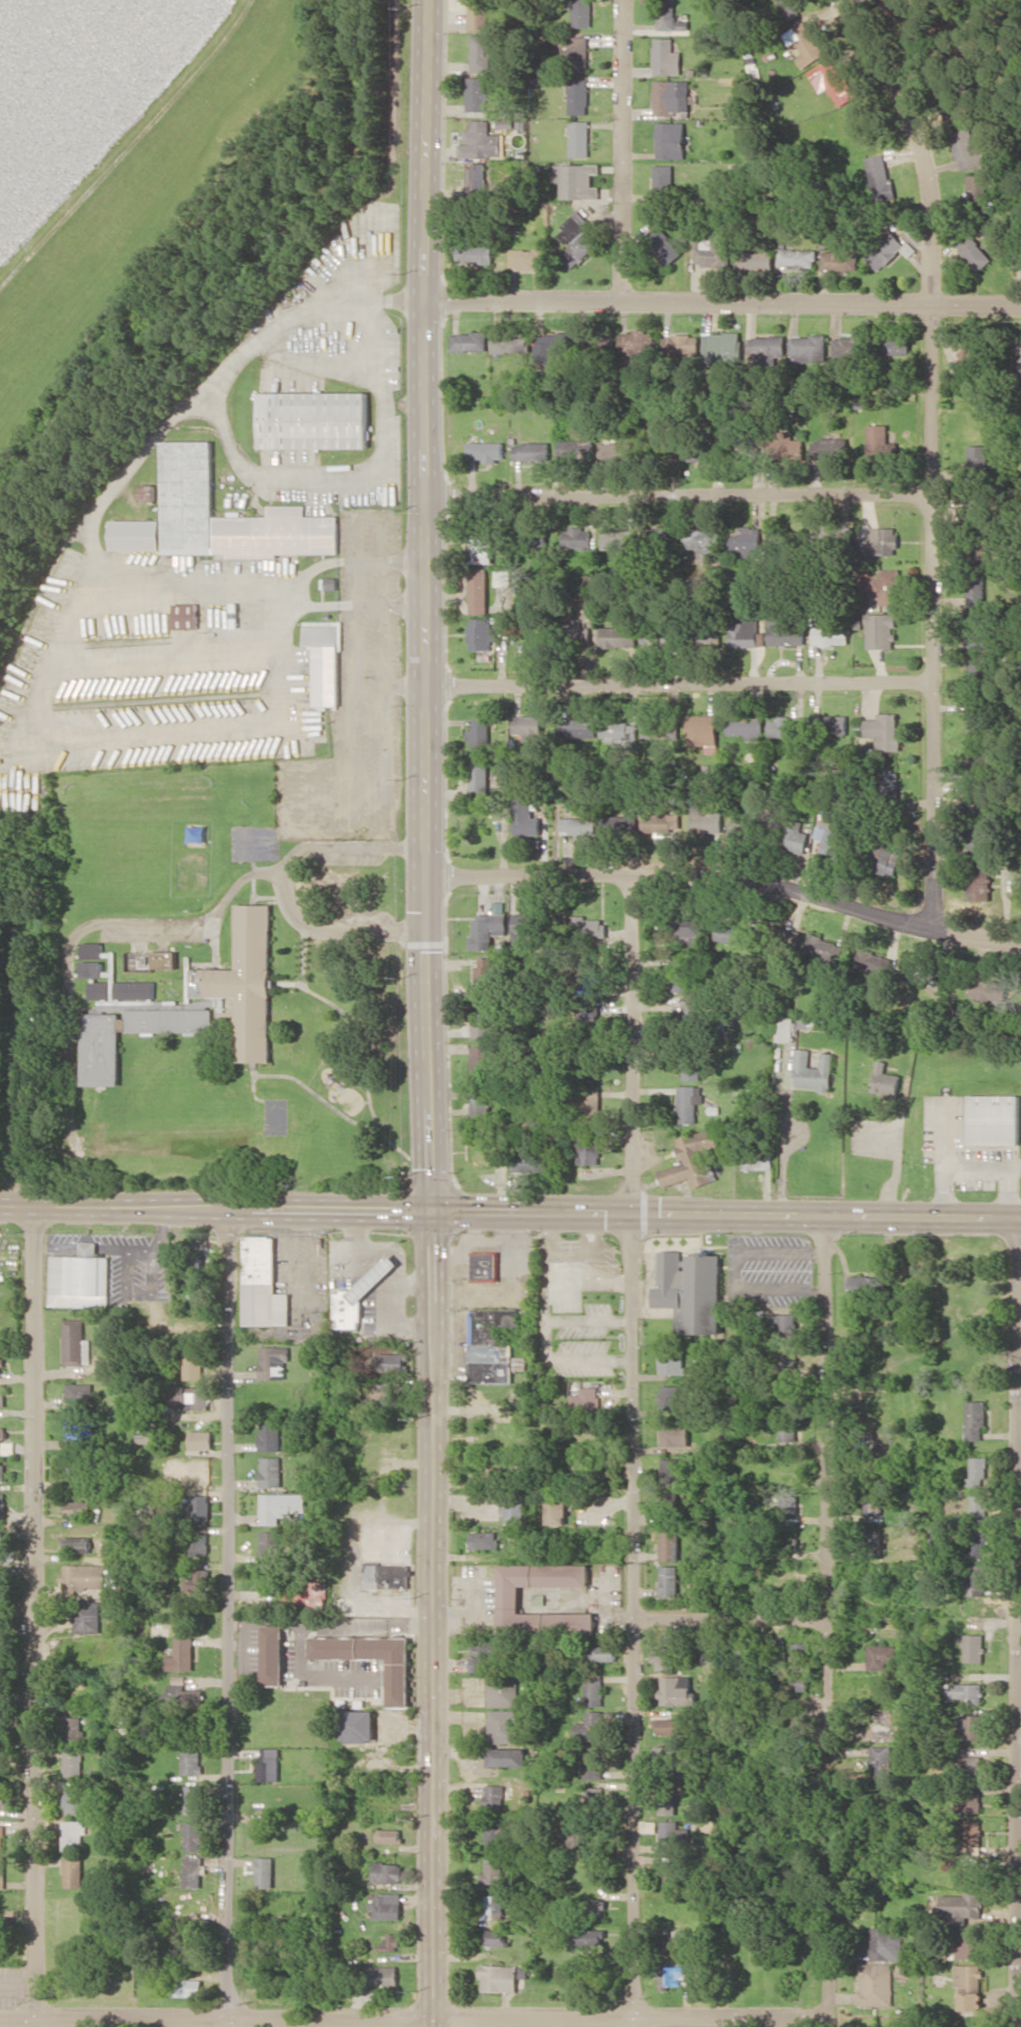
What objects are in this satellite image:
building: (1020, 0)
building: (898, 12)
building: (582, 13)
building: (481, 14)
building: (671, 18)
building: (807, 43)
building: (481, 53)
building: (579, 53)
building: (667, 57)
building: (833, 82)
building: (478, 94)
building: (579, 95)
building: (673, 97)
building: (580, 138)
building: (672, 140)
building: (482, 141)
building: (966, 145)
road: (623, 149)
building: (880, 177)
building: (477, 180)
building: (577, 180)
building: (665, 181)
building: (977, 194)
building: (577, 240)
building: (664, 245)
building: (888, 250)
building: (713, 251)
building: (974, 251)
building: (482, 254)
building: (796, 256)
building: (529, 258)
building: (757, 260)
building: (839, 260)
road: (723, 300)
building: (471, 341)
building: (507, 342)
building: (553, 342)
building: (683, 345)
building: (849, 345)
building: (724, 346)
building: (894, 346)
building: (810, 348)
building: (639, 349)
building: (971, 358)
building: (1016, 358)
building: (315, 420)
building: (881, 442)
building: (786, 446)
building: (832, 447)
building: (594, 449)
building: (487, 450)
building: (659, 450)
building: (532, 451)
building: (748, 452)
building: (698, 454)
road: (930, 455)
building: (978, 455)
building: (189, 473)
building: (148, 492)
road: (677, 494)
building: (979, 505)
building: (136, 535)
building: (576, 537)
building: (660, 537)
building: (617, 538)
building: (703, 538)
building: (746, 538)
building: (882, 541)
building: (480, 548)
building: (503, 577)
road: (198, 578)
building: (331, 583)
building: (883, 586)
building: (980, 590)
building: (478, 591)
road: (425, 605)
building: (186, 616)
building: (579, 631)
building: (786, 631)
building: (882, 631)
building: (977, 631)
building: (481, 633)
building: (746, 633)
building: (658, 634)
building: (831, 634)
building: (618, 636)
building: (326, 660)
building: (979, 670)
road: (679, 682)
building: (980, 713)
building: (832, 725)
building: (748, 726)
building: (528, 727)
building: (581, 727)
building: (784, 727)
building: (703, 729)
building: (655, 730)
building: (886, 731)
building: (480, 732)
building: (620, 733)
building: (480, 776)
building: (891, 790)
building: (525, 817)
building: (707, 818)
building: (620, 821)
building: (577, 825)
building: (791, 835)
building: (826, 837)
building: (979, 843)
road: (352, 849)
building: (886, 857)
road: (727, 878)
building: (979, 883)
building: (522, 925)
building: (585, 926)
building: (488, 928)
road: (341, 929)
building: (686, 929)
building: (734, 932)
building: (790, 936)
building: (825, 949)
road: (70, 950)
building: (91, 950)
building: (163, 959)
building: (874, 961)
building: (91, 968)
building: (485, 974)
building: (682, 974)
building: (926, 977)
building: (245, 982)
building: (99, 989)
building: (134, 989)
building: (988, 990)
building: (691, 1015)
building: (481, 1019)
building: (786, 1028)
building: (101, 1058)
building: (691, 1066)
building: (586, 1068)
building: (812, 1070)
building: (886, 1079)
building: (481, 1080)
building: (688, 1103)
building: (588, 1106)
building: (994, 1119)
building: (588, 1147)
building: (692, 1159)
building: (530, 1160)
building: (758, 1161)
road: (510, 1211)
building: (89, 1248)
building: (485, 1266)
road: (1020, 1268)
building: (80, 1281)
building: (263, 1283)
building: (863, 1285)
building: (691, 1290)
building: (359, 1295)
building: (785, 1325)
building: (75, 1342)
building: (490, 1345)
building: (790, 1358)
building: (274, 1361)
building: (671, 1361)
building: (193, 1362)
building: (392, 1362)
building: (1, 1364)
building: (383, 1392)
building: (79, 1393)
building: (190, 1397)
building: (669, 1397)
building: (2, 1398)
building: (586, 1400)
building: (975, 1419)
building: (788, 1428)
building: (673, 1433)
building: (270, 1435)
building: (2, 1436)
building: (201, 1439)
road: (633, 1452)
building: (670, 1469)
building: (77, 1471)
building: (201, 1471)
building: (270, 1471)
building: (977, 1471)
building: (2, 1472)
building: (788, 1503)
building: (871, 1503)
building: (280, 1506)
building: (78, 1507)
building: (200, 1507)
building: (516, 1507)
building: (556, 1507)
building: (667, 1507)
building: (979, 1507)
building: (2, 1508)
building: (484, 1539)
building: (199, 1541)
building: (269, 1542)
building: (976, 1542)
building: (873, 1543)
building: (77, 1544)
building: (668, 1544)
building: (3, 1553)
building: (386, 1575)
building: (86, 1576)
building: (272, 1576)
building: (1, 1578)
building: (978, 1579)
building: (668, 1581)
building: (309, 1592)
building: (509, 1599)
road: (612, 1603)
road: (35, 1616)
road: (456, 1616)
building: (87, 1617)
road: (230, 1617)
road: (432, 1618)
road: (827, 1621)
road: (730, 1622)
building: (973, 1647)
building: (801, 1650)
building: (604, 1652)
building: (709, 1654)
building: (182, 1655)
building: (273, 1655)
building: (663, 1656)
building: (881, 1656)
building: (483, 1657)
building: (372, 1658)
building: (594, 1688)
building: (503, 1689)
building: (675, 1690)
building: (967, 1691)
building: (182, 1696)
building: (881, 1725)
building: (358, 1726)
building: (503, 1726)
building: (668, 1726)
building: (970, 1726)
building: (73, 1728)
building: (507, 1756)
building: (2, 1760)
building: (191, 1760)
building: (881, 1761)
building: (73, 1762)
building: (591, 1762)
building: (269, 1763)
building: (970, 1767)
building: (495, 1797)
building: (591, 1797)
building: (4, 1798)
building: (74, 1798)
building: (192, 1799)
building: (969, 1800)
building: (667, 1807)
building: (572, 1834)
building: (73, 1835)
building: (192, 1835)
building: (388, 1835)
building: (496, 1835)
building: (971, 1835)
building: (2, 1836)
building: (669, 1836)
building: (493, 1871)
building: (2, 1872)
building: (73, 1872)
building: (192, 1872)
building: (264, 1872)
building: (388, 1872)
building: (594, 1872)
building: (669, 1872)
building: (387, 1905)
building: (594, 1906)
building: (961, 1906)
building: (493, 1907)
building: (496, 1937)
building: (590, 1938)
building: (389, 1942)
building: (886, 1943)
building: (673, 1944)
building: (970, 1946)
building: (185, 1958)
building: (380, 1976)
building: (670, 1976)
building: (499, 1978)
building: (875, 1984)
building: (969, 1987)
road: (412, 2019)

